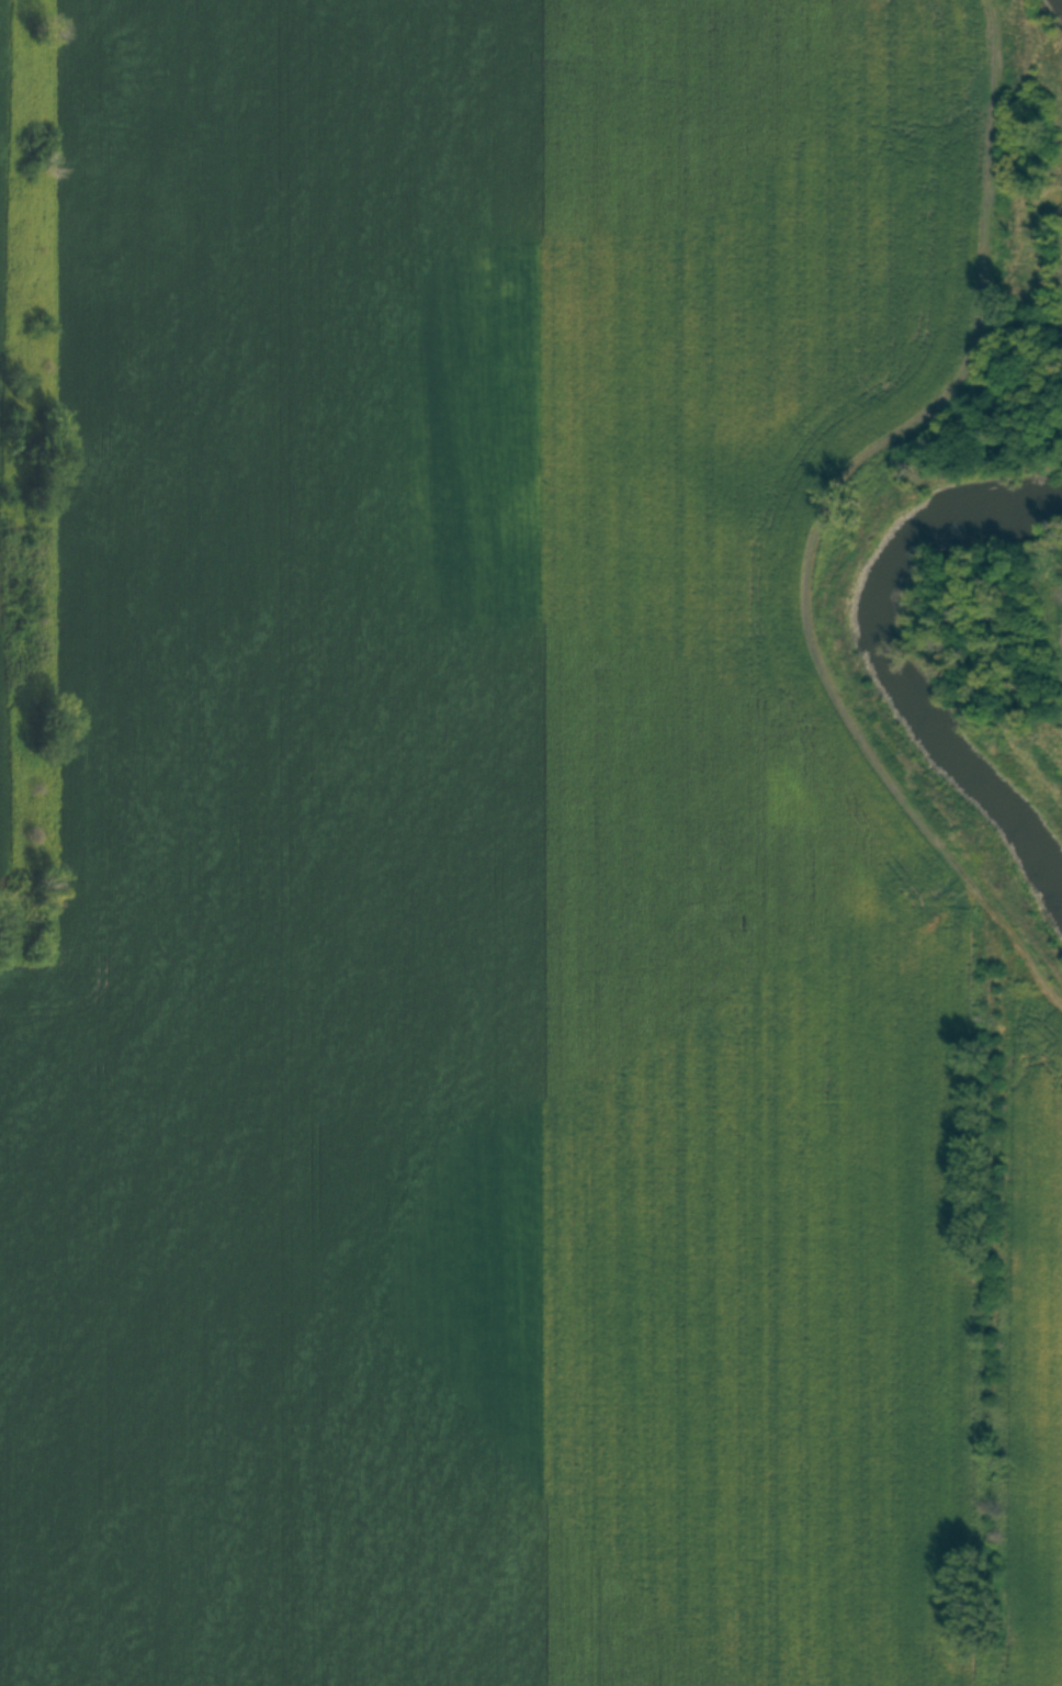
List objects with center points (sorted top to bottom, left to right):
building: (984, 514)
river: (893, 654)

